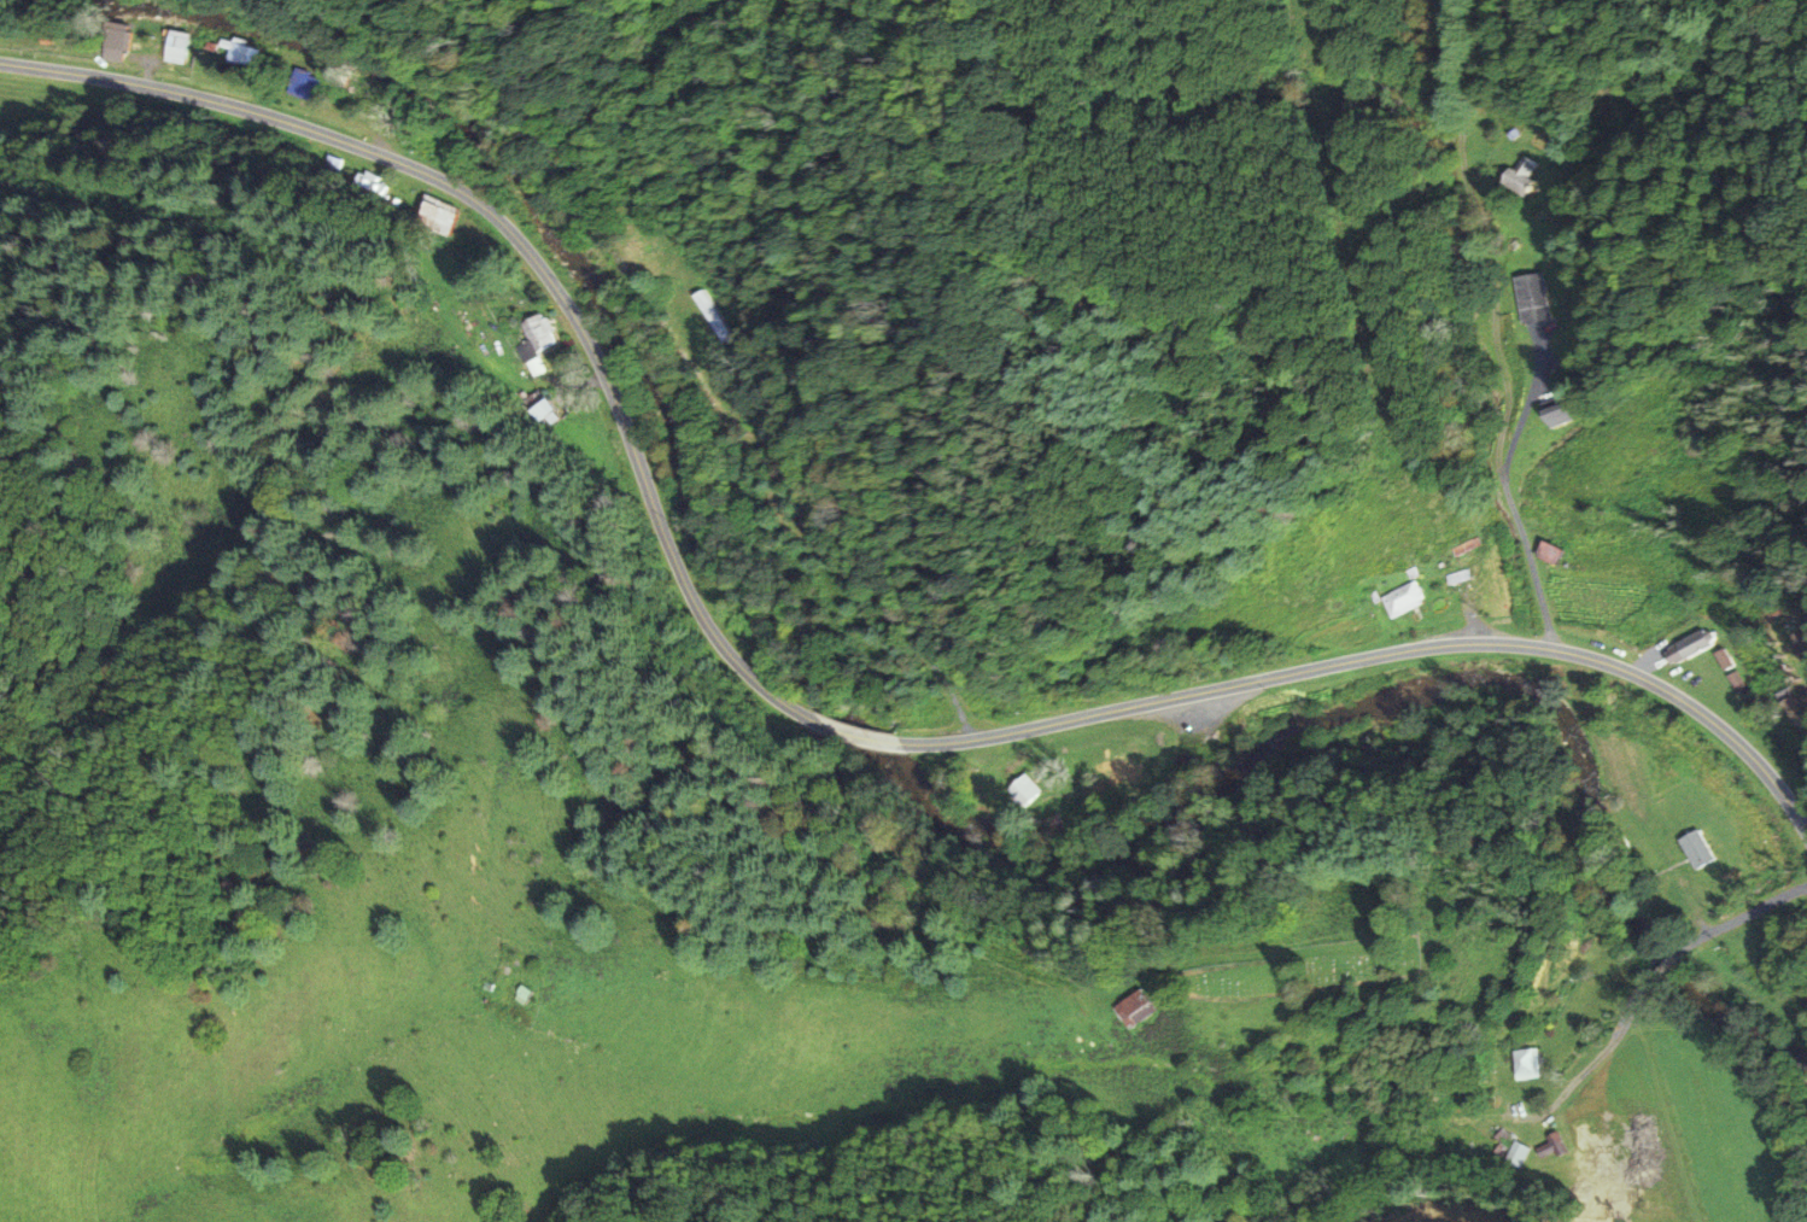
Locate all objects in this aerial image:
building: (110, 42)
building: (171, 47)
building: (238, 55)
building: (299, 86)
building: (433, 217)
road: (530, 250)
building: (1525, 298)
building: (707, 317)
building: (538, 410)
building: (1552, 416)
road: (1504, 487)
building: (1546, 552)
building: (1399, 600)
building: (1690, 644)
road: (1384, 655)
building: (1733, 684)
building: (1788, 709)
road: (862, 735)
building: (1018, 789)
building: (1691, 848)
road: (1739, 918)
road: (1660, 967)
park: (1303, 969)
building: (516, 994)
building: (1129, 1007)
building: (1522, 1063)
road: (1591, 1066)

